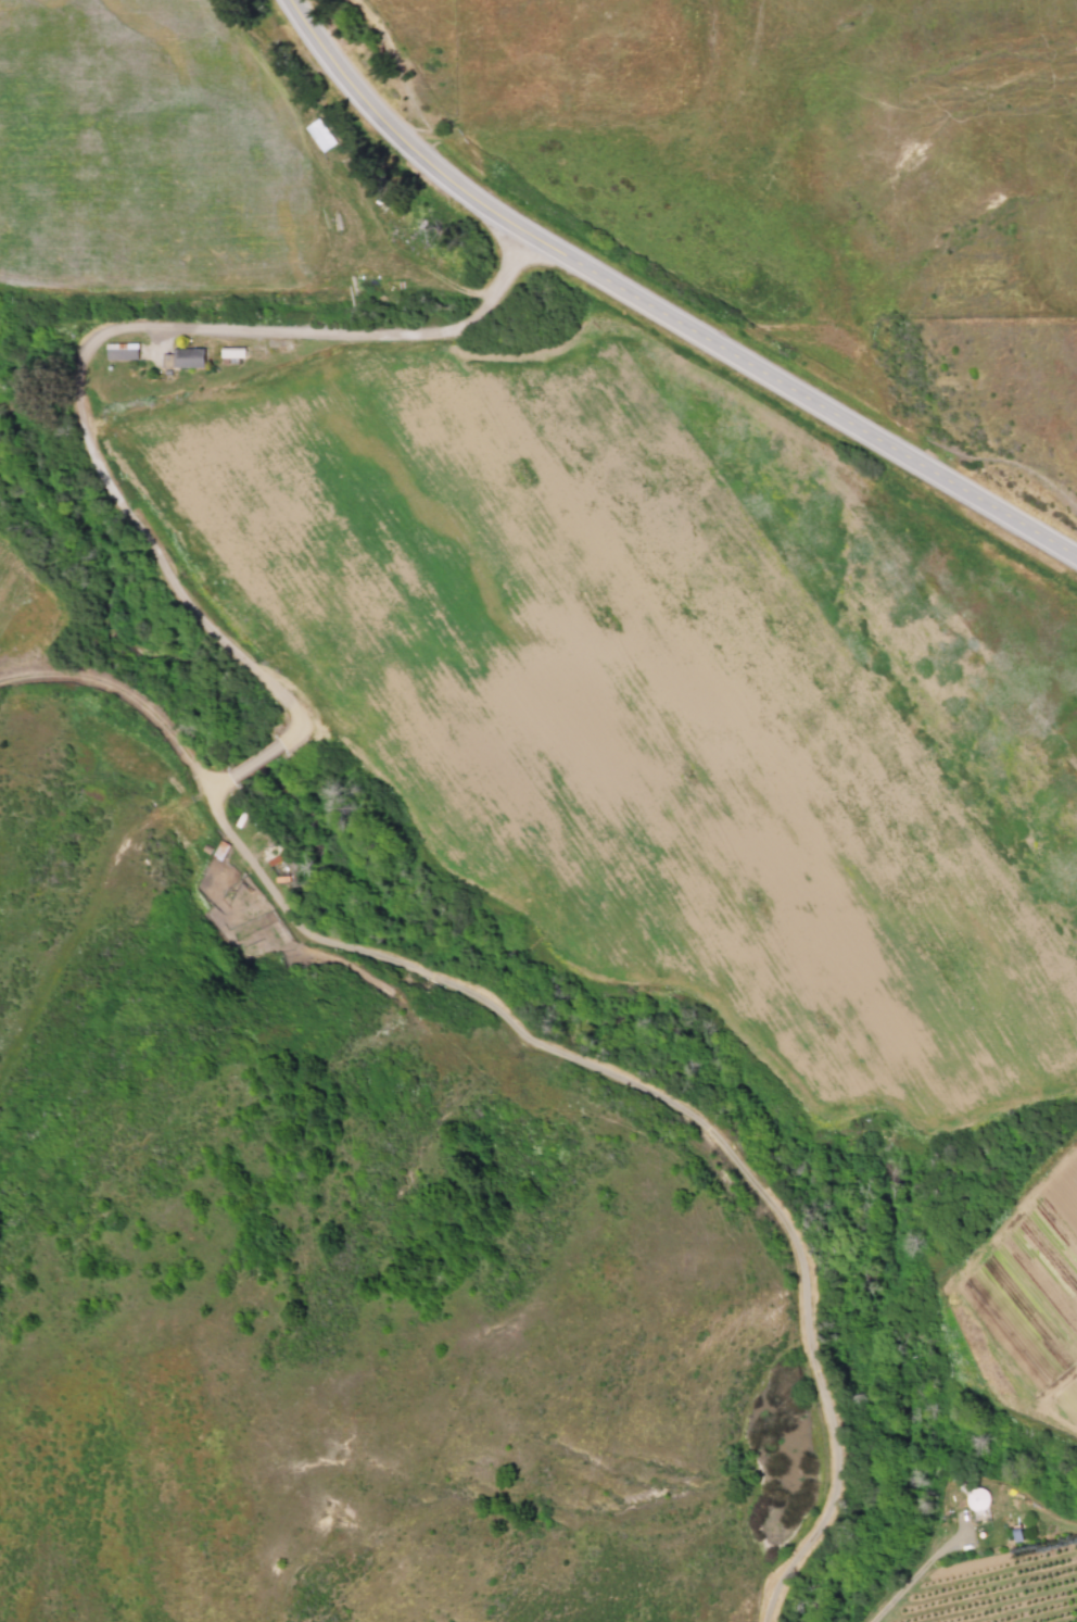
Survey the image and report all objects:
road: (396, 134)
road: (104, 329)
building: (121, 350)
building: (231, 352)
building: (183, 357)
road: (807, 395)
crop: (543, 576)
road: (117, 872)
road: (555, 1054)
crop: (991, 1568)

